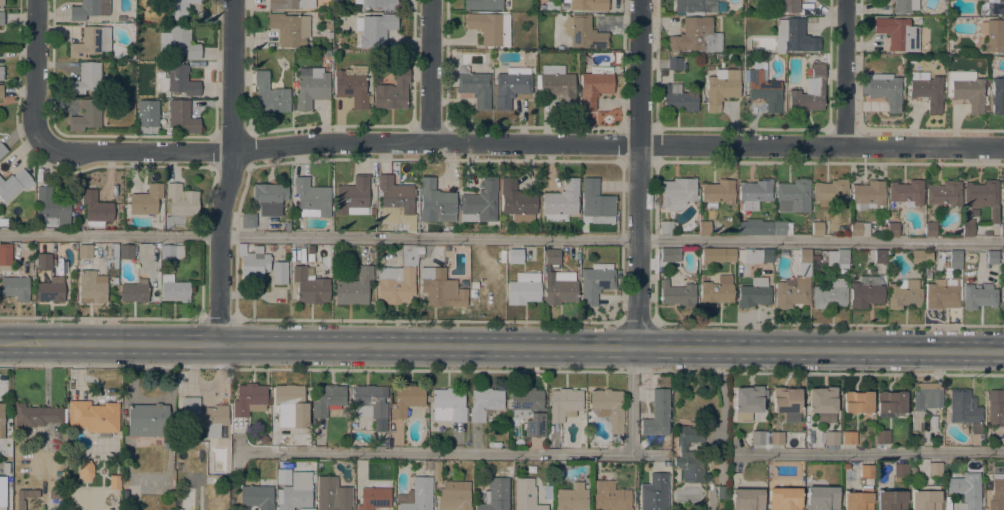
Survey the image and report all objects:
building: (1, 3)
building: (289, 4)
building: (379, 4)
building: (483, 4)
building: (587, 4)
building: (552, 5)
building: (564, 6)
building: (695, 6)
building: (785, 6)
building: (904, 6)
building: (991, 7)
building: (178, 8)
building: (88, 9)
building: (1, 18)
building: (328, 24)
building: (164, 26)
building: (289, 28)
building: (490, 28)
building: (375, 29)
building: (583, 32)
building: (898, 34)
building: (993, 35)
building: (695, 37)
building: (793, 37)
building: (90, 41)
building: (178, 42)
building: (674, 65)
road: (429, 71)
building: (1, 73)
road: (37, 73)
road: (845, 74)
building: (86, 78)
building: (178, 80)
building: (555, 83)
building: (311, 86)
building: (352, 86)
building: (511, 86)
building: (595, 86)
building: (474, 87)
building: (965, 89)
building: (720, 90)
building: (764, 90)
building: (883, 90)
building: (926, 90)
building: (0, 91)
building: (393, 91)
building: (270, 95)
building: (808, 95)
building: (997, 96)
building: (679, 99)
building: (153, 101)
building: (86, 115)
building: (180, 116)
road: (522, 143)
building: (2, 150)
road: (231, 172)
road: (637, 173)
building: (14, 184)
building: (830, 192)
building: (677, 193)
building: (717, 193)
building: (754, 193)
building: (906, 193)
building: (943, 193)
building: (1002, 194)
building: (867, 195)
building: (352, 196)
building: (793, 196)
building: (983, 197)
building: (268, 198)
building: (312, 198)
building: (394, 198)
building: (146, 200)
building: (181, 200)
building: (436, 202)
building: (480, 202)
building: (517, 202)
building: (561, 202)
building: (596, 203)
building: (75, 205)
building: (119, 207)
building: (52, 208)
building: (95, 208)
building: (248, 220)
building: (883, 220)
building: (3, 222)
building: (287, 226)
building: (665, 227)
building: (704, 228)
building: (762, 228)
building: (967, 228)
building: (501, 229)
building: (817, 229)
building: (858, 229)
building: (892, 229)
building: (930, 230)
building: (1001, 230)
road: (502, 239)
building: (271, 248)
building: (286, 249)
building: (420, 250)
building: (5, 251)
building: (85, 251)
building: (126, 252)
building: (171, 252)
building: (669, 255)
building: (717, 255)
building: (515, 256)
building: (758, 256)
building: (112, 257)
building: (309, 257)
building: (552, 257)
building: (879, 257)
building: (917, 257)
building: (992, 257)
building: (815, 258)
building: (837, 258)
building: (43, 260)
building: (955, 260)
building: (253, 262)
building: (279, 273)
building: (926, 273)
building: (397, 279)
building: (595, 282)
building: (14, 284)
building: (795, 285)
building: (92, 286)
building: (309, 286)
building: (354, 287)
building: (436, 287)
building: (173, 288)
building: (559, 288)
building: (523, 289)
building: (51, 290)
building: (135, 291)
building: (716, 292)
building: (866, 292)
building: (754, 293)
building: (677, 294)
building: (829, 294)
building: (903, 294)
building: (942, 294)
building: (1002, 294)
building: (978, 297)
road: (101, 318)
road: (217, 319)
road: (427, 321)
road: (636, 324)
road: (828, 325)
road: (502, 346)
road: (620, 370)
building: (249, 399)
building: (327, 399)
building: (748, 399)
building: (406, 400)
road: (631, 400)
building: (924, 401)
building: (484, 403)
building: (858, 403)
building: (371, 404)
building: (564, 404)
building: (786, 404)
building: (823, 404)
building: (890, 404)
building: (448, 405)
building: (290, 407)
building: (995, 408)
building: (607, 409)
road: (720, 409)
building: (527, 410)
building: (964, 410)
building: (657, 414)
building: (35, 415)
building: (203, 416)
building: (93, 417)
building: (2, 418)
building: (147, 420)
building: (882, 437)
building: (758, 438)
building: (776, 438)
building: (831, 438)
building: (849, 438)
building: (263, 439)
building: (1003, 439)
building: (286, 442)
building: (164, 445)
road: (451, 452)
building: (690, 454)
road: (870, 454)
building: (912, 469)
building: (934, 469)
building: (85, 470)
building: (900, 470)
building: (866, 472)
building: (114, 482)
building: (911, 482)
building: (57, 489)
building: (966, 489)
building: (2, 491)
building: (296, 492)
building: (722, 492)
building: (996, 492)
building: (654, 493)
building: (125, 494)
building: (330, 495)
building: (416, 495)
building: (453, 495)
building: (495, 495)
building: (525, 495)
building: (257, 496)
building: (375, 496)
building: (24, 497)
building: (571, 497)
building: (610, 497)
building: (821, 498)
building: (926, 498)
building: (747, 499)
building: (784, 499)
building: (858, 500)
building: (891, 500)
road: (711, 504)
building: (307, 509)

